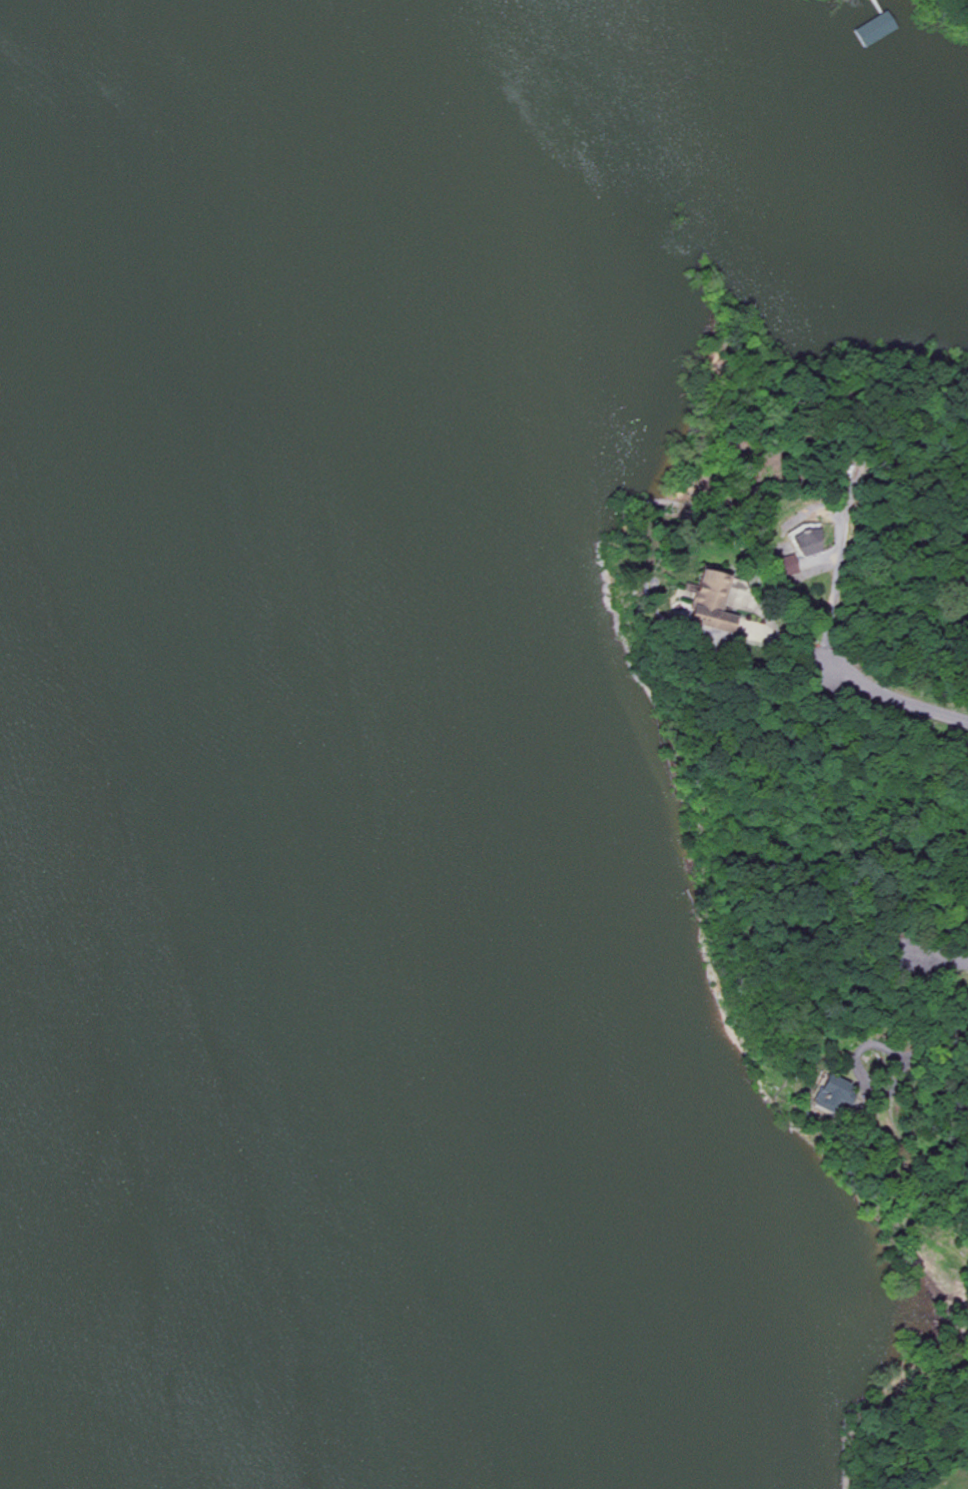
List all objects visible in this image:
building: (875, 29)
road: (903, 709)
road: (946, 964)

